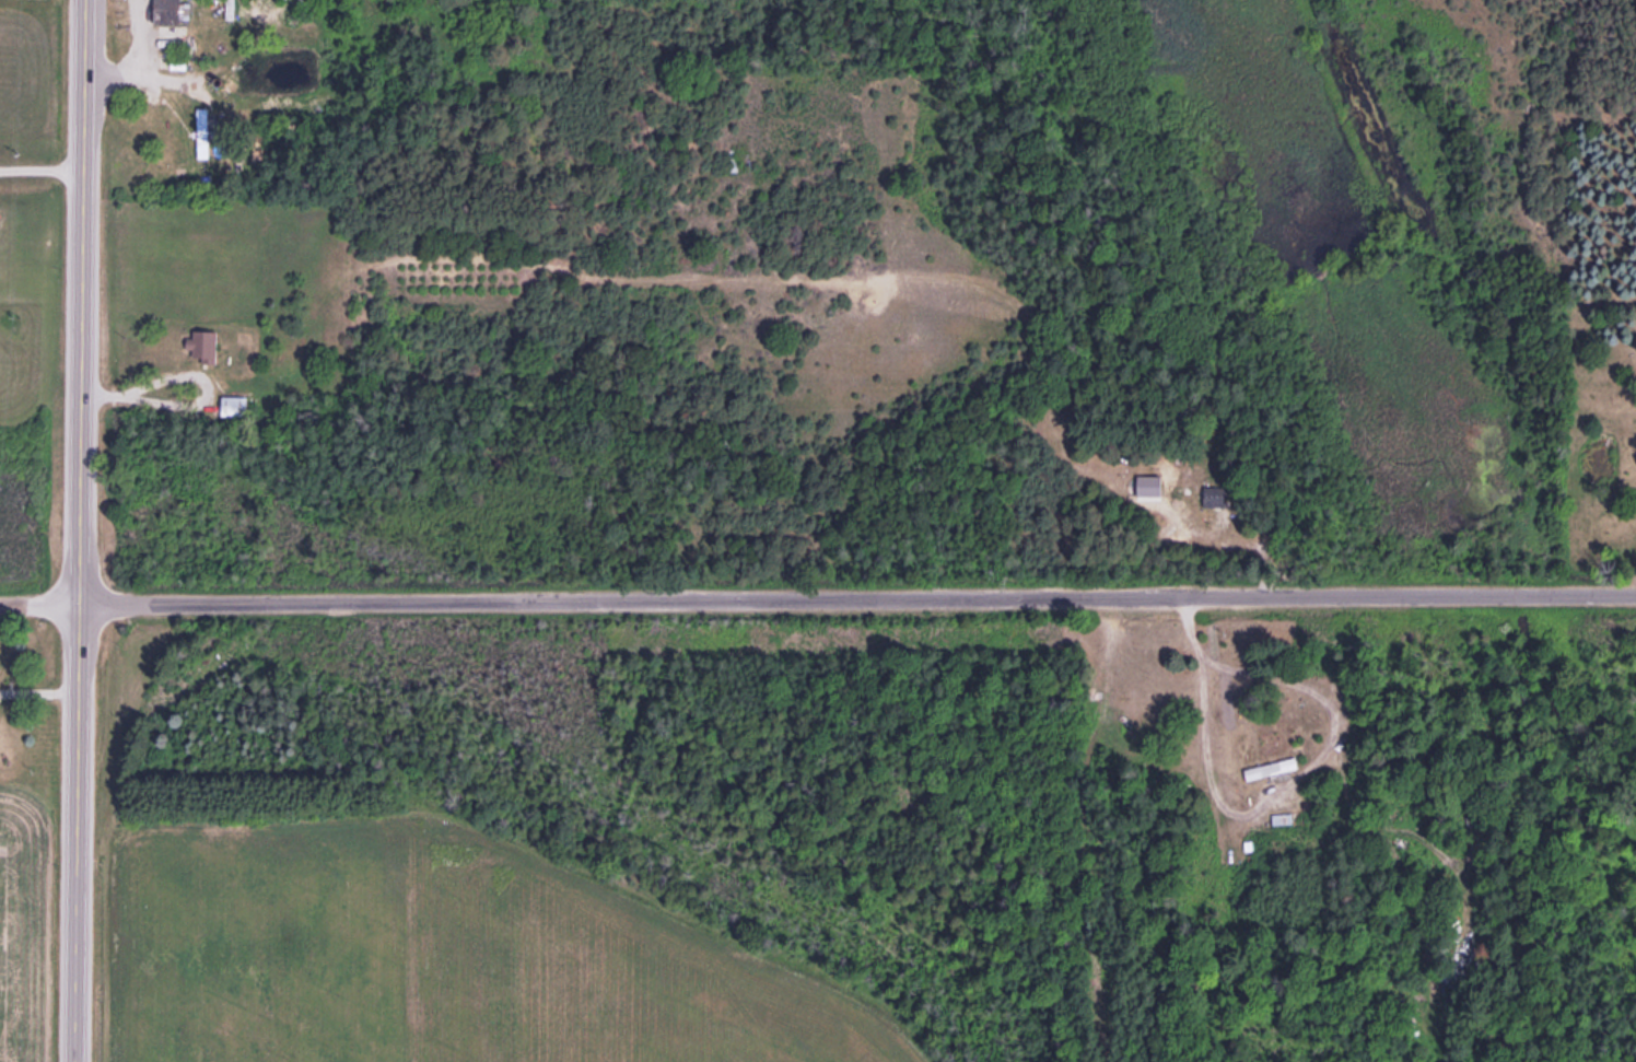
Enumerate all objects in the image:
building: (229, 12)
building: (170, 17)
building: (203, 132)
road: (80, 302)
building: (204, 345)
building: (237, 405)
building: (1215, 495)
road: (856, 586)
road: (38, 605)
building: (1272, 768)
building: (1283, 818)
road: (77, 833)

